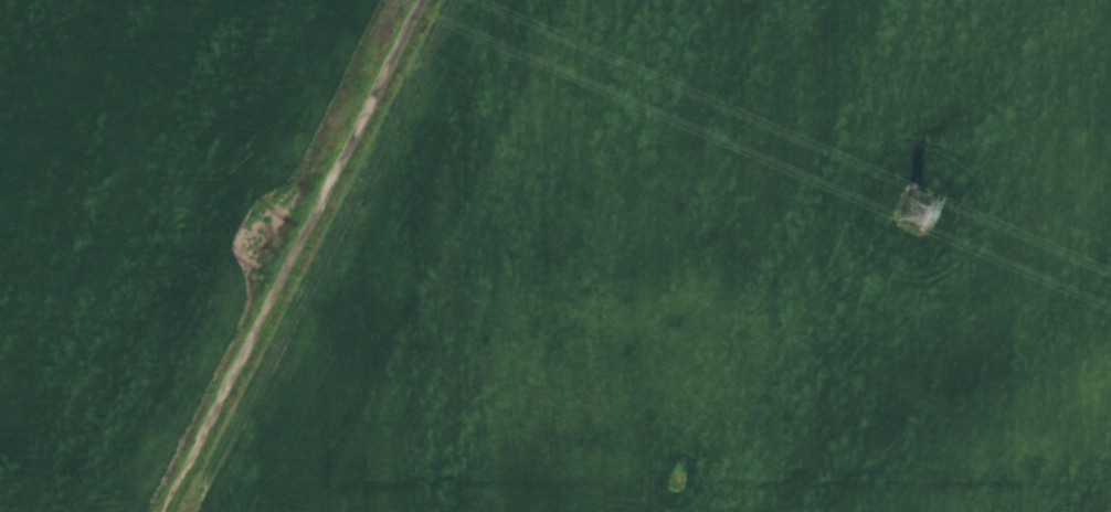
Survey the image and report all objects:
power tower: (912, 211)

